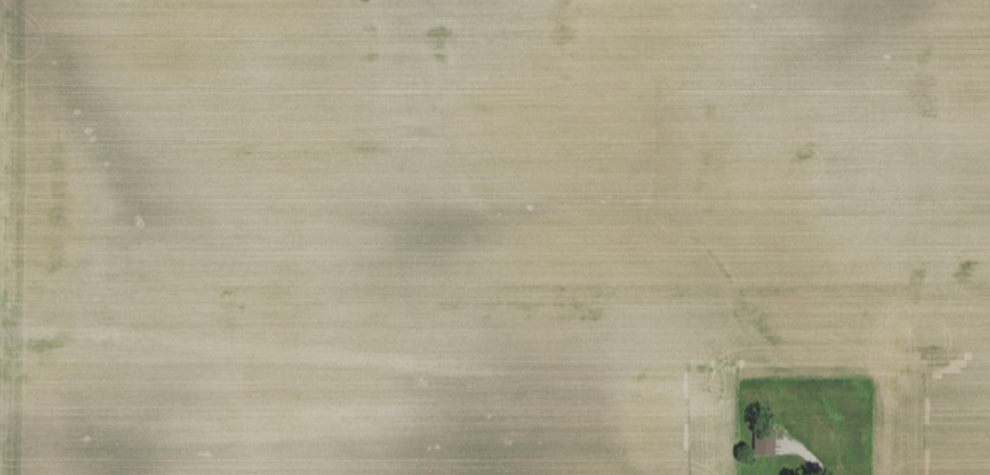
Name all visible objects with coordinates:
road: (805, 460)

